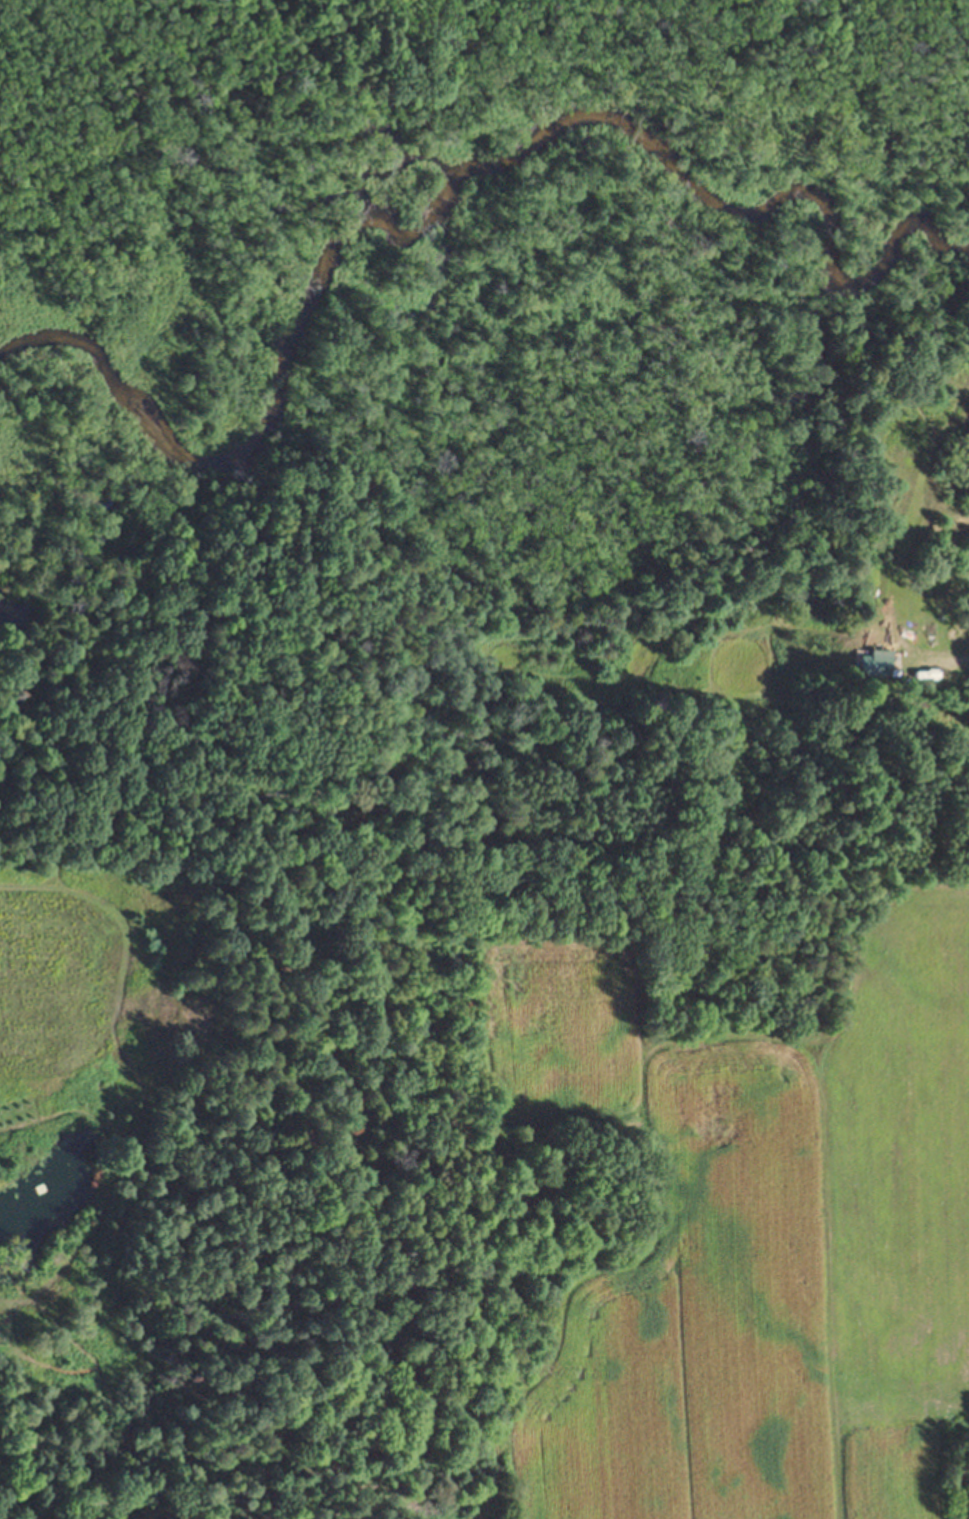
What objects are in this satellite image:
river: (442, 147)
building: (873, 664)

